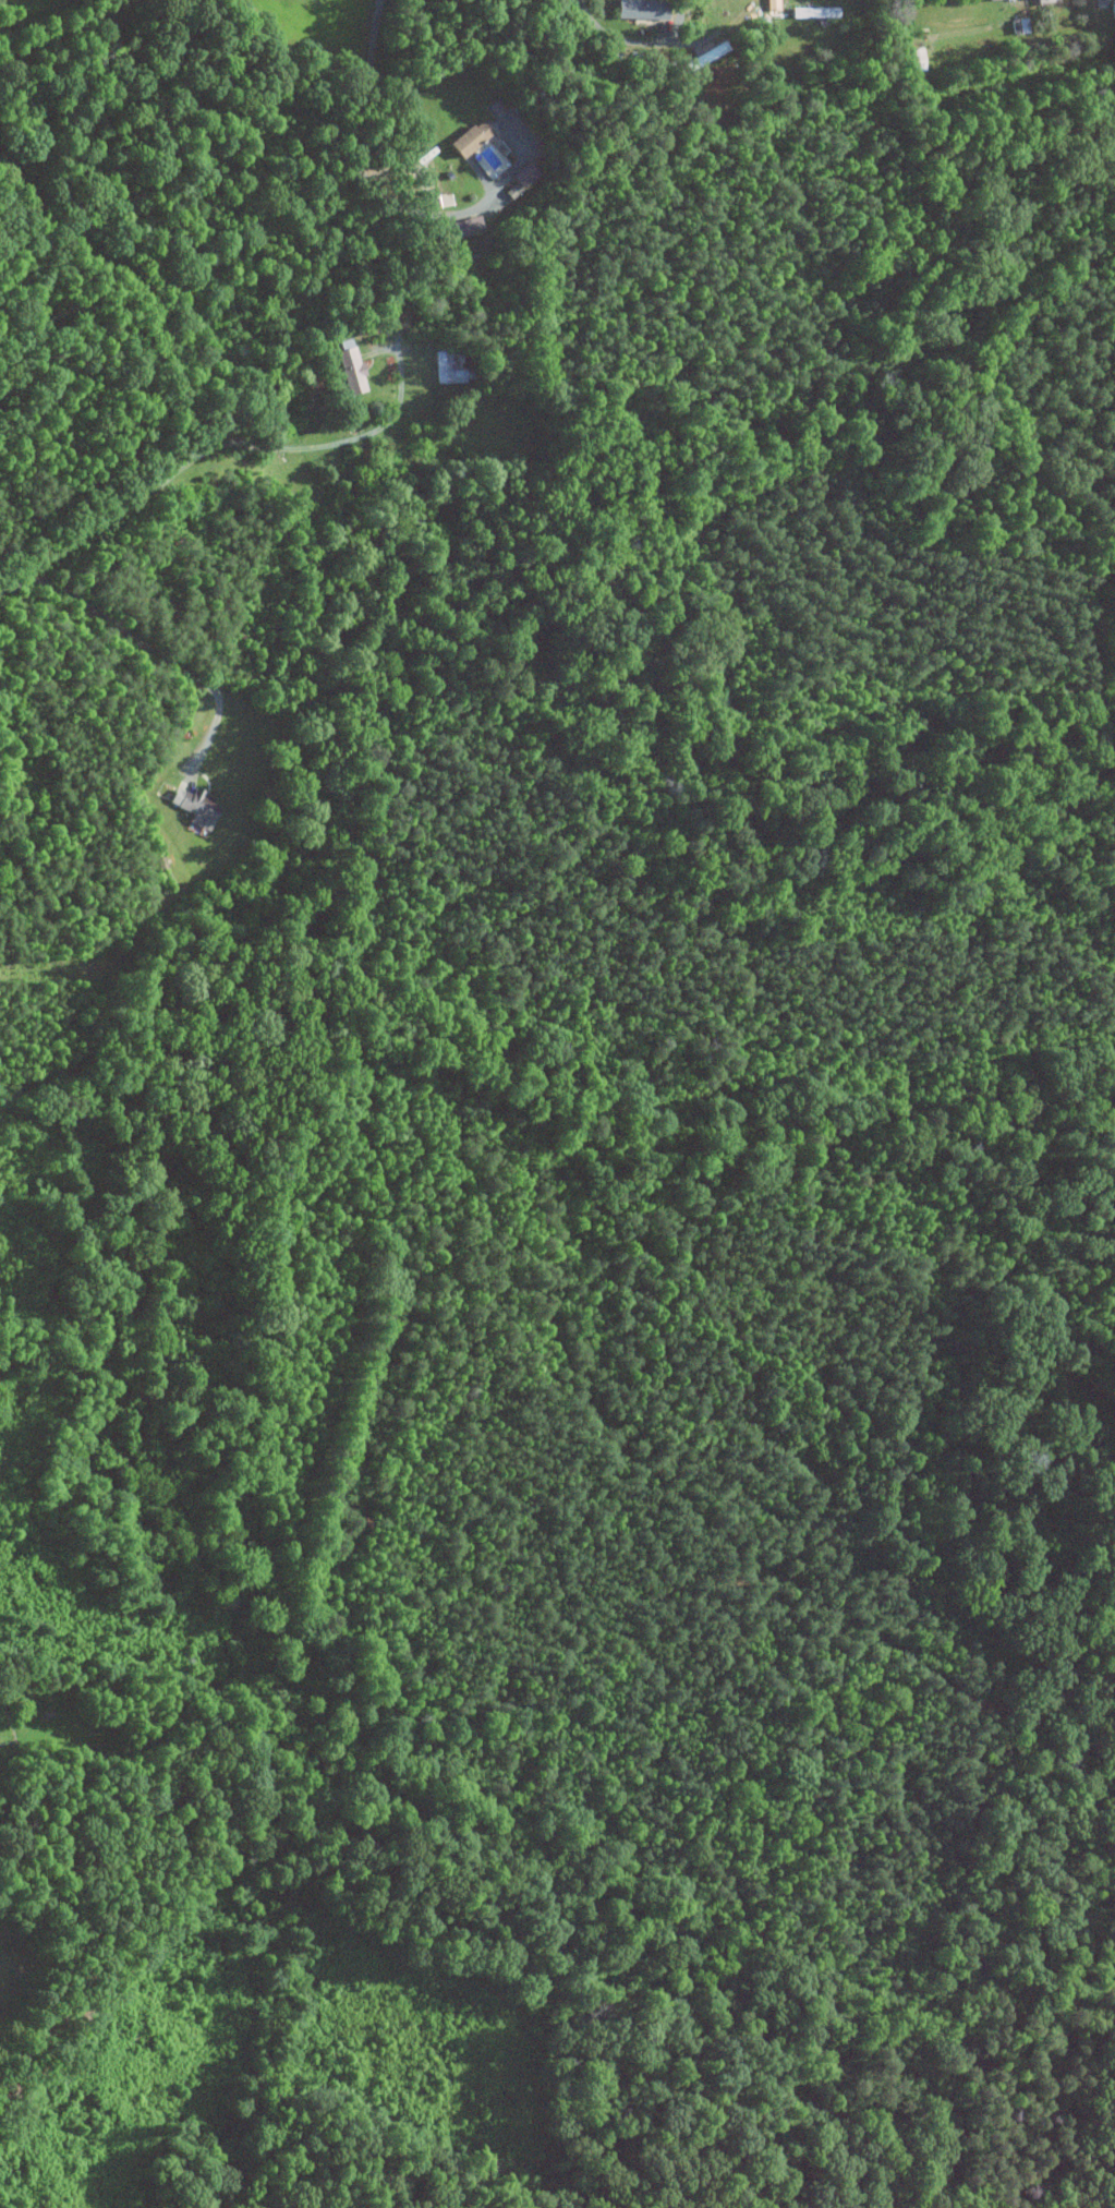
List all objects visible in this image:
building: (986, 0)
building: (1038, 2)
building: (638, 9)
building: (811, 12)
building: (1015, 26)
road: (635, 43)
building: (699, 59)
building: (918, 60)
building: (466, 138)
road: (354, 162)
building: (519, 179)
building: (453, 230)
building: (445, 369)
building: (348, 371)
road: (213, 446)
road: (153, 653)
building: (193, 807)

